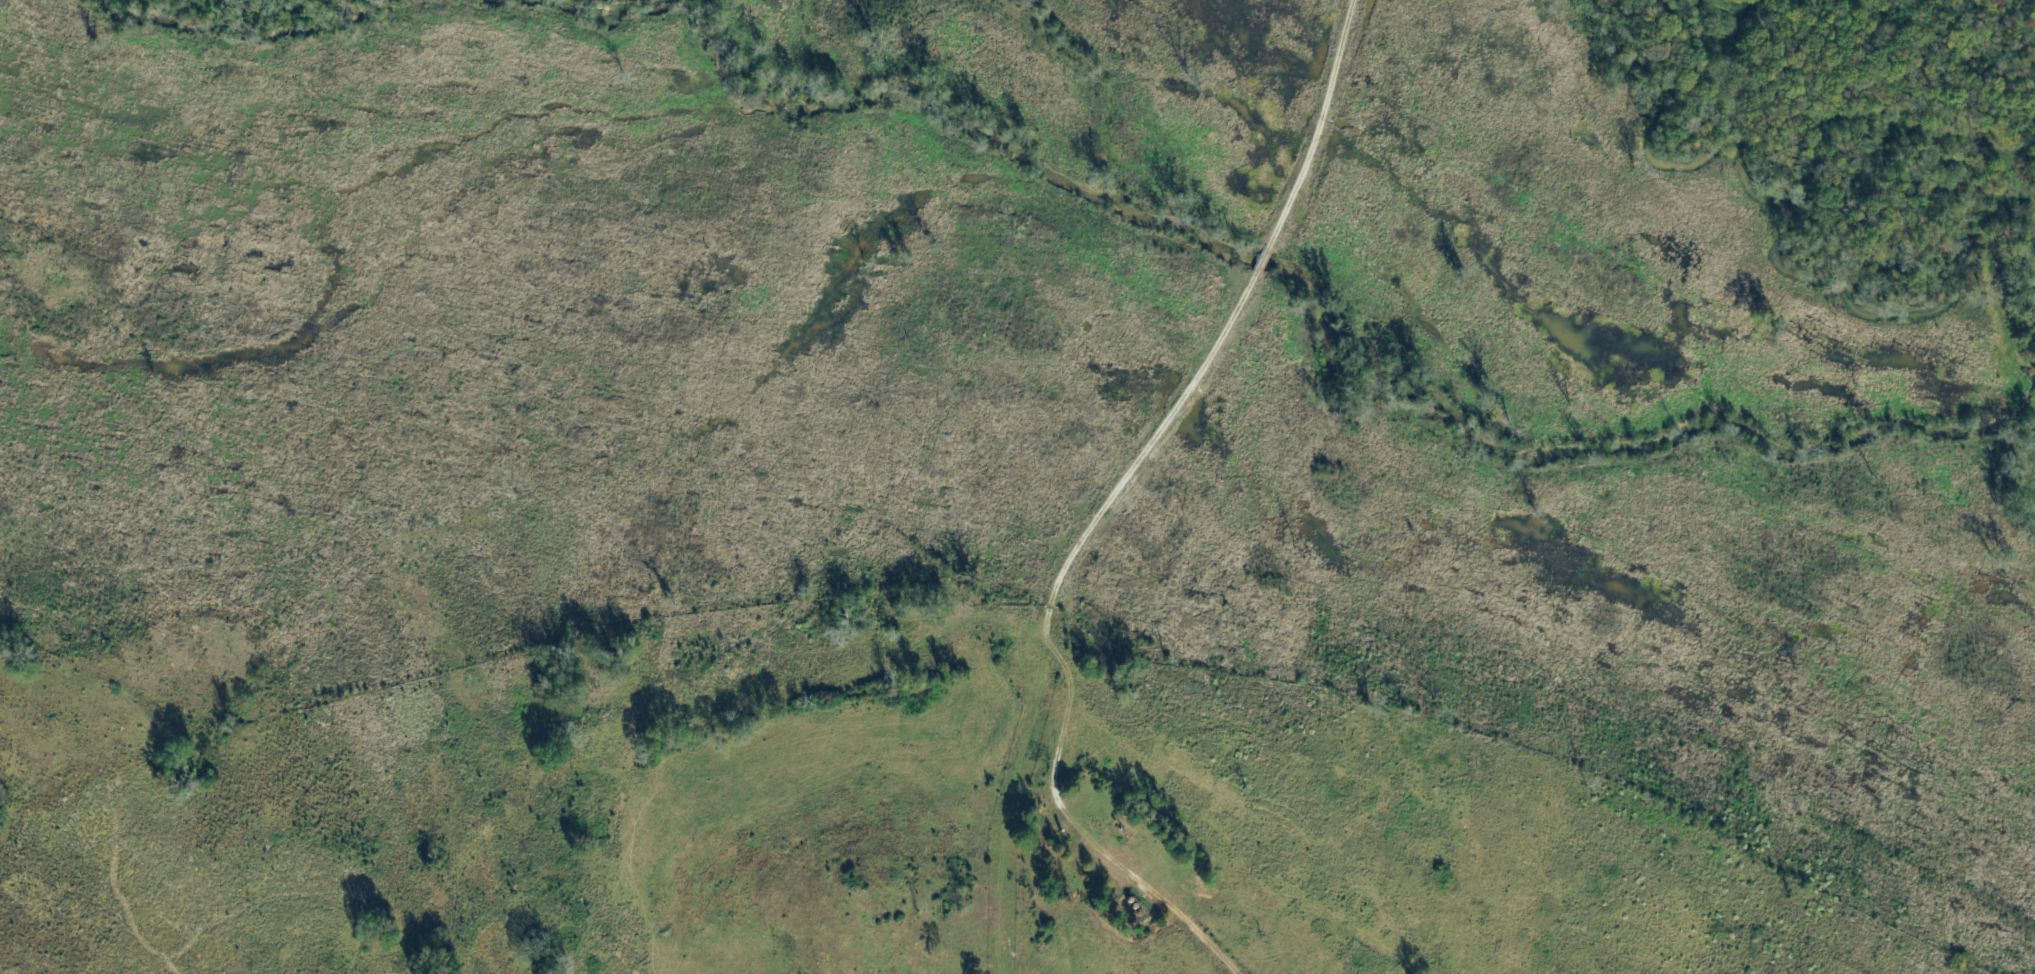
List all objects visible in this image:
road: (1162, 892)

